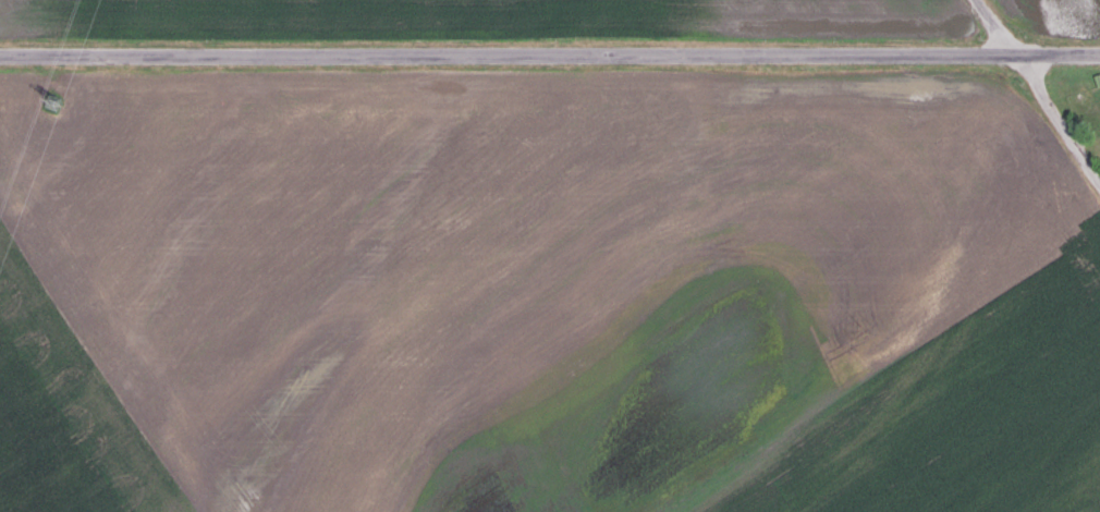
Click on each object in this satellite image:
crop: (1051, 13)
crop: (497, 21)
road: (550, 57)
road: (1040, 89)
power tower: (53, 99)
crop: (545, 293)

